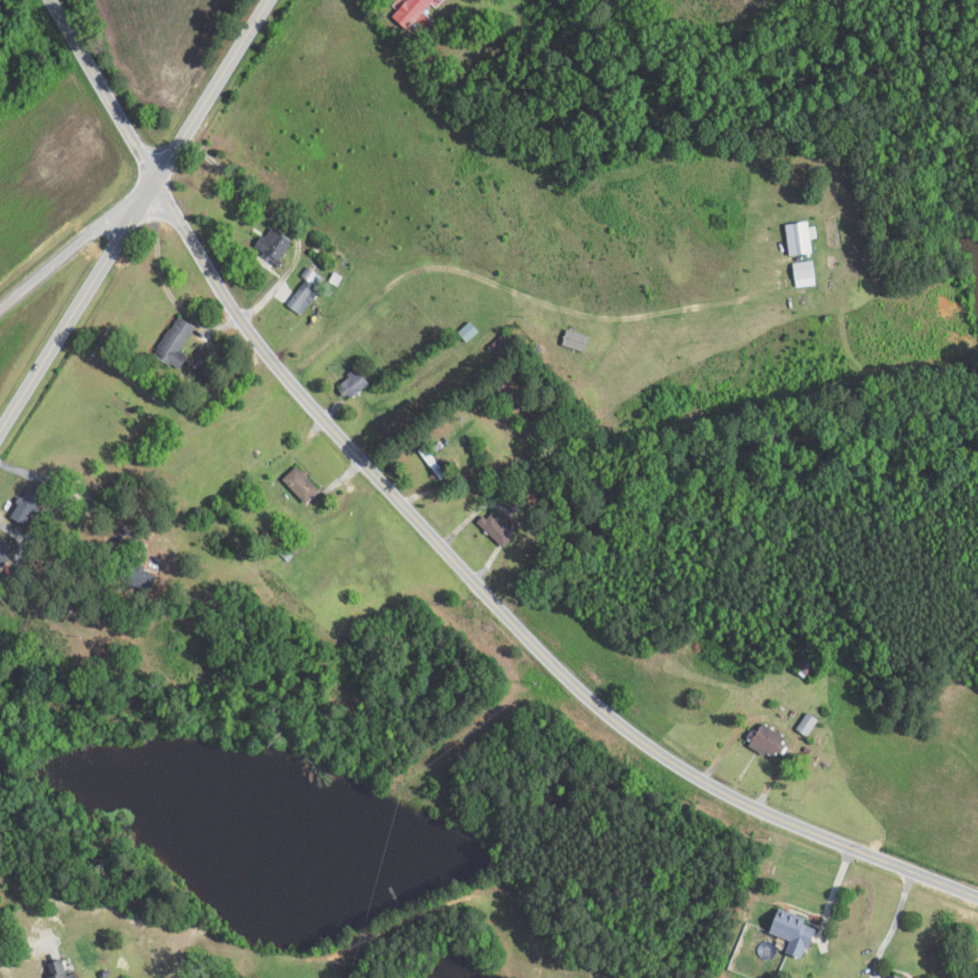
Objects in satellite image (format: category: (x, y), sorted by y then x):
building: (415, 11)
building: (430, 26)
road: (125, 202)
building: (797, 238)
building: (273, 244)
road: (58, 262)
building: (304, 297)
building: (470, 331)
building: (575, 340)
building: (177, 344)
building: (502, 344)
building: (355, 384)
building: (509, 393)
building: (434, 464)
building: (302, 484)
building: (30, 505)
building: (496, 529)
road: (437, 530)
building: (137, 578)
building: (806, 725)
building: (766, 741)
building: (796, 931)
building: (56, 970)

